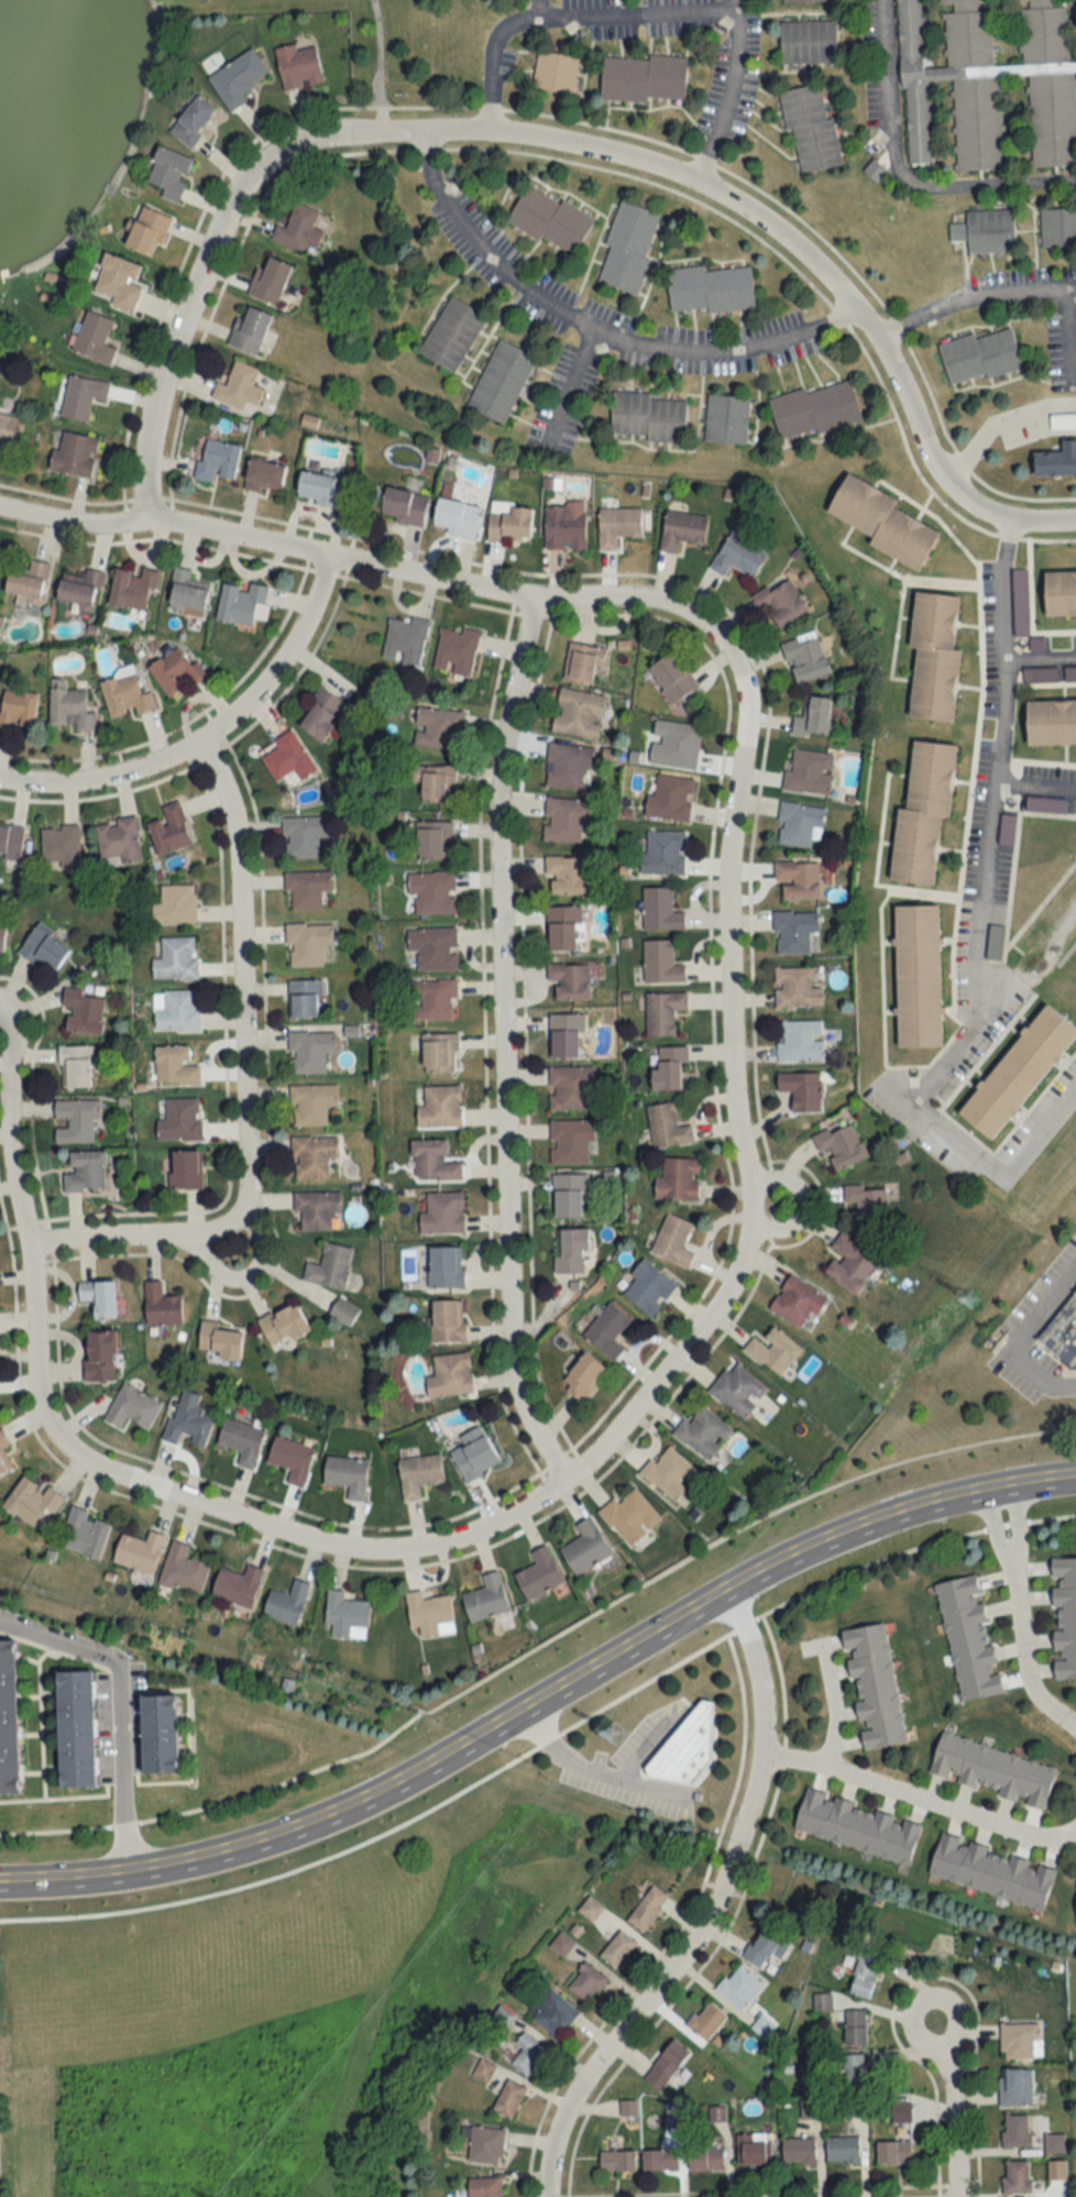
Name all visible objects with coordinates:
building: (800, 1)
road: (562, 15)
building: (808, 42)
road: (377, 65)
building: (298, 66)
building: (555, 72)
building: (237, 78)
building: (643, 78)
road: (727, 94)
building: (193, 120)
building: (810, 129)
road: (557, 141)
building: (874, 169)
building: (167, 174)
road: (901, 175)
building: (550, 220)
building: (1057, 227)
building: (298, 229)
building: (989, 230)
building: (146, 231)
building: (627, 246)
building: (270, 281)
building: (119, 282)
building: (709, 289)
building: (249, 330)
building: (451, 334)
building: (94, 338)
road: (1068, 338)
road: (698, 352)
building: (979, 356)
building: (501, 382)
road: (571, 383)
building: (238, 386)
building: (81, 395)
building: (814, 409)
building: (647, 417)
building: (726, 419)
road: (997, 419)
building: (11, 428)
building: (74, 453)
building: (217, 459)
building: (1057, 461)
building: (264, 475)
building: (318, 487)
building: (404, 505)
building: (455, 516)
building: (879, 517)
building: (509, 524)
building: (564, 525)
building: (617, 525)
building: (682, 528)
building: (737, 556)
road: (362, 562)
building: (28, 581)
building: (80, 589)
building: (133, 589)
building: (1058, 590)
building: (186, 594)
building: (242, 603)
building: (780, 603)
building: (405, 640)
building: (455, 649)
building: (931, 653)
road: (1040, 655)
building: (804, 657)
building: (583, 662)
building: (175, 671)
building: (1069, 672)
building: (1039, 673)
building: (671, 677)
building: (125, 695)
building: (70, 708)
building: (18, 710)
building: (578, 713)
building: (322, 714)
building: (813, 716)
building: (1048, 717)
building: (437, 728)
road: (206, 730)
building: (674, 745)
building: (288, 758)
building: (567, 766)
road: (995, 770)
building: (809, 772)
building: (433, 781)
road: (1034, 788)
building: (670, 799)
building: (920, 808)
building: (564, 819)
building: (799, 824)
building: (169, 828)
building: (304, 835)
building: (11, 841)
building: (118, 841)
building: (433, 841)
building: (59, 847)
building: (663, 853)
building: (566, 875)
building: (798, 879)
building: (306, 888)
building: (432, 891)
building: (175, 904)
building: (660, 909)
building: (563, 926)
building: (793, 930)
building: (2, 934)
building: (307, 943)
building: (44, 947)
building: (433, 947)
building: (176, 959)
building: (661, 962)
building: (913, 971)
building: (568, 981)
building: (795, 988)
building: (305, 998)
building: (433, 999)
building: (84, 1011)
building: (177, 1011)
building: (662, 1012)
building: (566, 1035)
building: (800, 1041)
road: (957, 1042)
road: (498, 1043)
building: (309, 1051)
building: (439, 1052)
building: (175, 1065)
building: (76, 1066)
building: (669, 1068)
building: (1015, 1068)
road: (241, 1080)
building: (570, 1088)
building: (801, 1089)
building: (310, 1103)
building: (438, 1107)
building: (75, 1120)
building: (180, 1120)
building: (666, 1125)
road: (7, 1136)
building: (570, 1141)
building: (841, 1146)
building: (312, 1155)
building: (432, 1161)
road: (989, 1167)
building: (186, 1169)
building: (86, 1172)
building: (678, 1178)
building: (569, 1195)
road: (795, 1202)
building: (866, 1205)
building: (316, 1209)
building: (442, 1212)
building: (672, 1240)
building: (571, 1250)
building: (849, 1264)
building: (329, 1266)
building: (446, 1267)
road: (248, 1276)
building: (648, 1287)
building: (1074, 1287)
building: (99, 1297)
building: (797, 1300)
building: (161, 1305)
building: (343, 1311)
building: (447, 1320)
building: (283, 1325)
building: (1061, 1329)
building: (606, 1330)
road: (1020, 1336)
building: (218, 1340)
building: (772, 1352)
building: (99, 1355)
building: (450, 1375)
building: (583, 1376)
building: (737, 1389)
building: (132, 1407)
road: (623, 1418)
building: (188, 1419)
building: (702, 1432)
building: (241, 1440)
building: (474, 1453)
building: (3, 1454)
building: (290, 1459)
building: (669, 1472)
building: (418, 1473)
building: (347, 1475)
building: (32, 1503)
building: (629, 1515)
building: (84, 1534)
building: (585, 1547)
building: (139, 1551)
building: (183, 1570)
building: (539, 1573)
building: (237, 1585)
building: (486, 1599)
building: (286, 1603)
building: (344, 1614)
building: (429, 1614)
road: (1019, 1614)
building: (1064, 1617)
building: (967, 1638)
road: (540, 1645)
building: (874, 1685)
road: (541, 1691)
road: (120, 1701)
road: (836, 1705)
building: (8, 1720)
building: (76, 1729)
building: (160, 1734)
building: (685, 1746)
road: (783, 1768)
road: (581, 1770)
building: (991, 1770)
road: (918, 1800)
building: (857, 1826)
building: (991, 1871)
building: (647, 1908)
building: (590, 1909)
road: (712, 1910)
building: (617, 1948)
building: (765, 1948)
building: (865, 1970)
building: (585, 1982)
building: (739, 1987)
building: (553, 2013)
building: (706, 2021)
building: (762, 2026)
building: (855, 2028)
building: (1019, 2041)
building: (528, 2053)
building: (667, 2064)
building: (860, 2075)
building: (1015, 2087)
building: (508, 2098)
road: (953, 2106)
building: (855, 2107)
building: (627, 2108)
building: (901, 2112)
building: (1015, 2131)
building: (484, 2144)
building: (754, 2149)
building: (842, 2150)
building: (798, 2151)
building: (893, 2152)
building: (705, 2158)
building: (659, 2160)
building: (617, 2161)
building: (1017, 2177)
building: (484, 2187)

